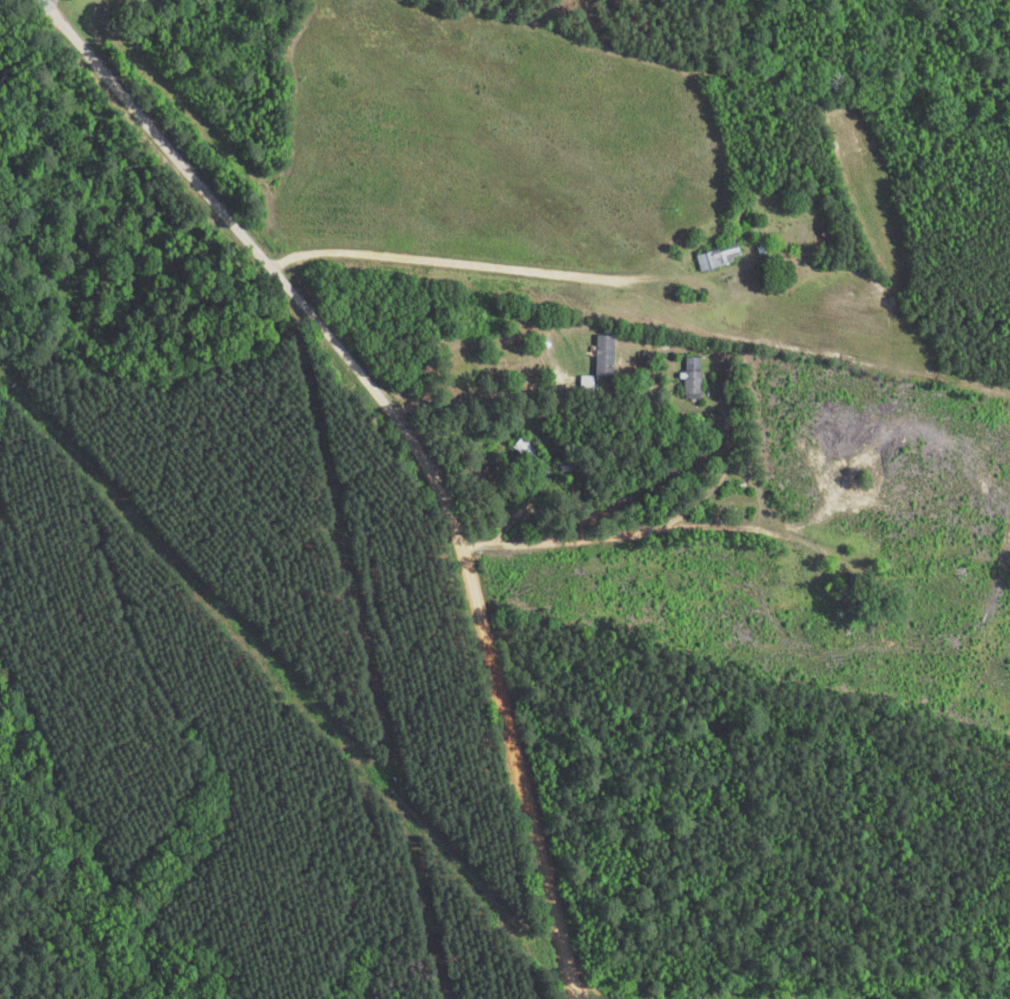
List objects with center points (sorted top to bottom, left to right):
road: (463, 106)
building: (830, 237)
building: (718, 256)
road: (565, 276)
building: (604, 354)
building: (692, 377)
road: (451, 445)
building: (528, 451)
road: (602, 550)

